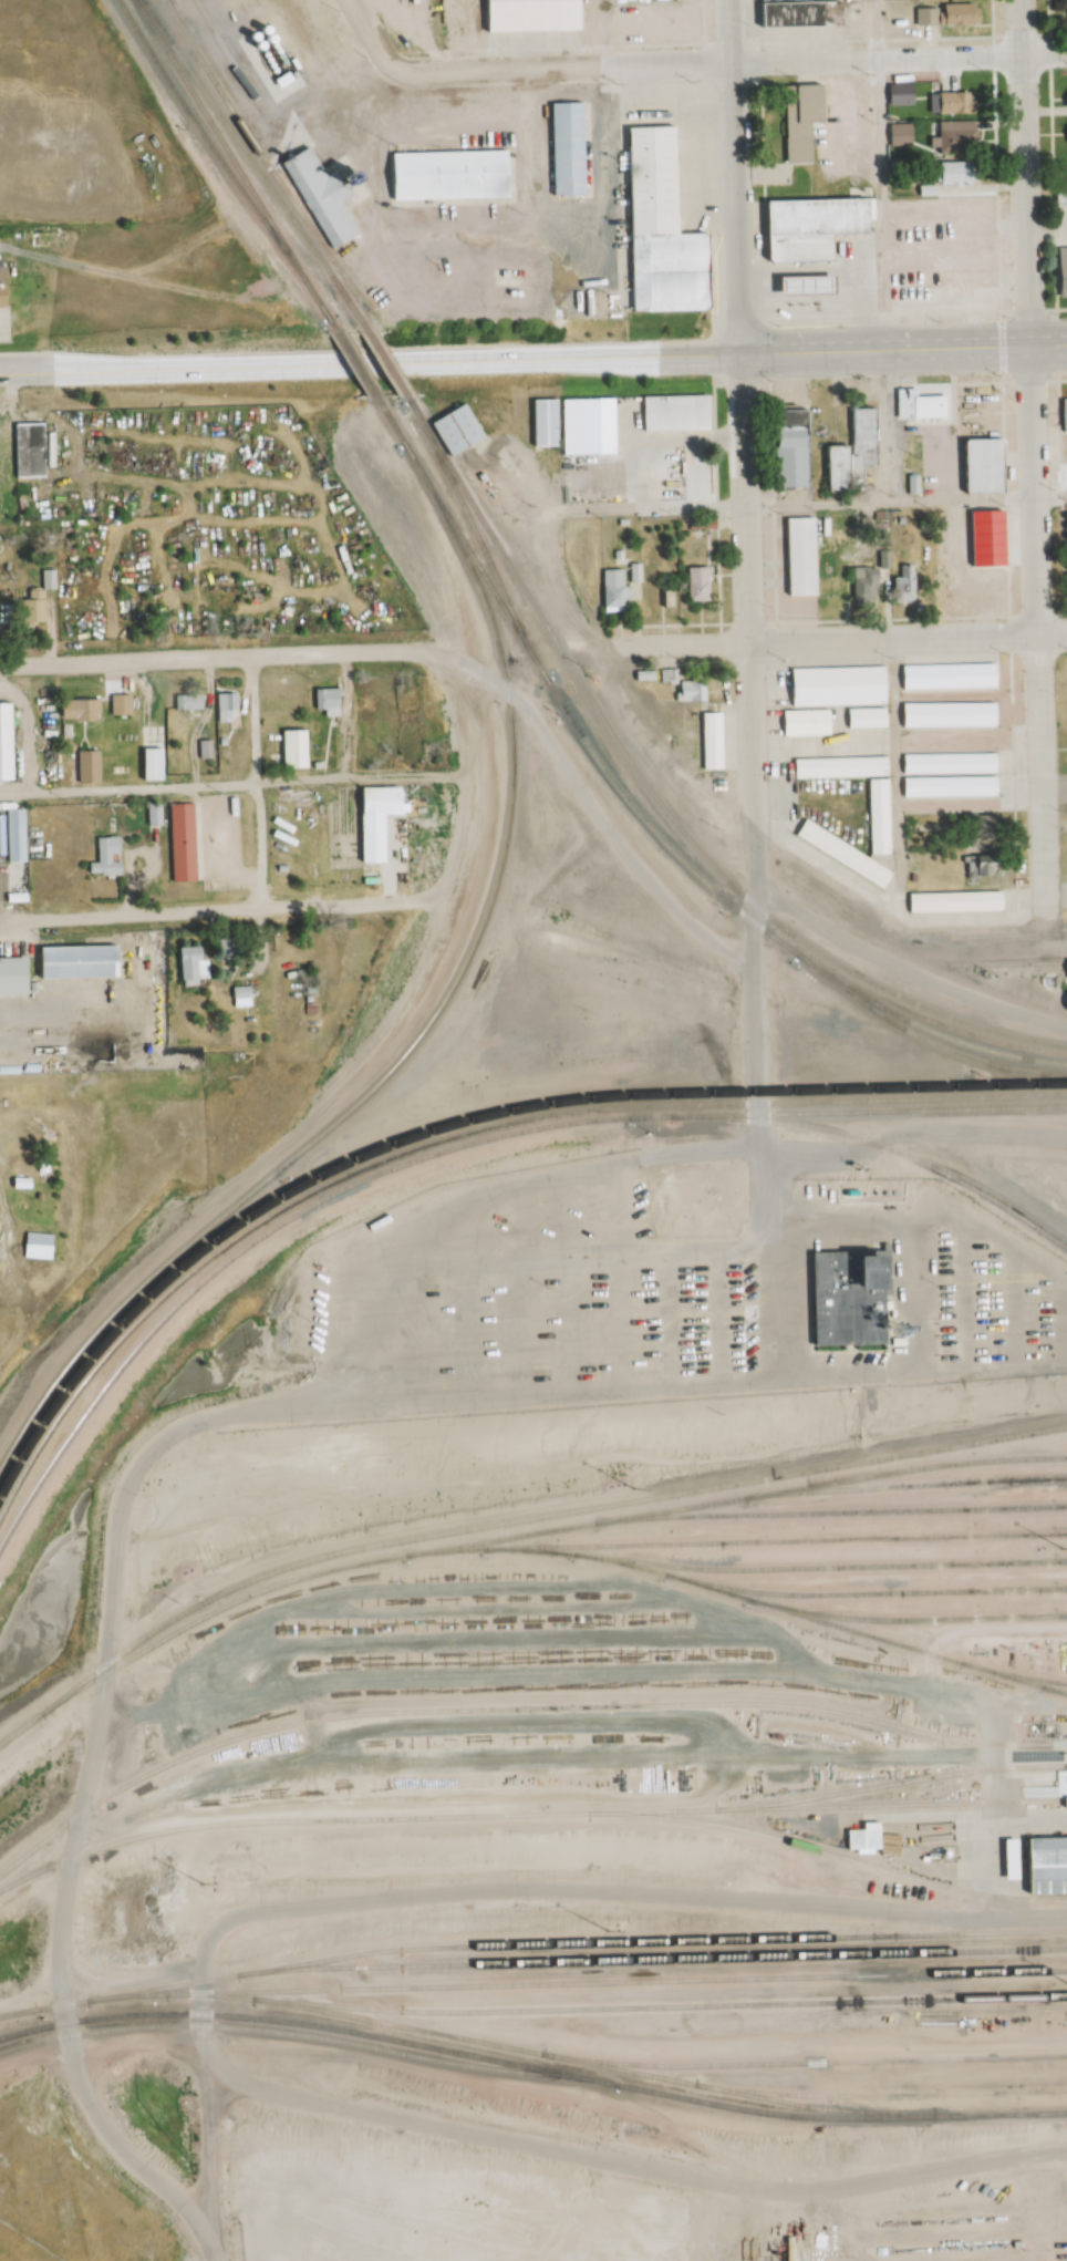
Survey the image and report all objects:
building: (795, 13)
building: (1065, 13)
building: (943, 14)
building: (522, 16)
road: (598, 34)
road: (369, 35)
building: (293, 63)
road: (731, 64)
building: (276, 81)
building: (894, 95)
building: (1064, 97)
building: (949, 104)
building: (795, 122)
building: (1064, 134)
building: (895, 135)
building: (952, 137)
building: (566, 147)
railway: (232, 159)
railway: (262, 159)
railway: (219, 163)
railway: (252, 166)
road: (880, 169)
building: (940, 171)
road: (734, 172)
building: (1064, 174)
building: (446, 175)
building: (652, 182)
building: (321, 194)
building: (802, 228)
building: (433, 256)
building: (1059, 272)
building: (667, 273)
building: (501, 275)
building: (6, 286)
building: (796, 286)
railway: (334, 324)
road: (974, 337)
road: (810, 342)
road: (672, 347)
road: (361, 354)
road: (58, 362)
railway: (356, 363)
railway: (385, 364)
building: (901, 404)
building: (568, 409)
building: (669, 413)
building: (1061, 415)
building: (541, 424)
building: (594, 426)
building: (453, 429)
road: (365, 435)
building: (781, 448)
building: (33, 450)
building: (848, 453)
road: (1032, 456)
building: (975, 467)
building: (476, 477)
road: (477, 502)
road: (746, 504)
building: (620, 523)
building: (698, 525)
railway: (479, 547)
building: (617, 556)
building: (798, 557)
building: (632, 572)
building: (694, 584)
building: (904, 584)
building: (939, 584)
building: (859, 587)
building: (609, 591)
building: (662, 598)
road: (746, 615)
road: (835, 640)
railway: (553, 646)
road: (227, 657)
railway: (532, 663)
building: (663, 675)
building: (947, 677)
building: (642, 679)
building: (837, 685)
building: (688, 692)
building: (194, 701)
building: (332, 701)
building: (124, 705)
building: (230, 708)
building: (91, 710)
building: (946, 715)
building: (864, 719)
building: (805, 723)
road: (30, 729)
building: (709, 743)
building: (208, 748)
building: (301, 750)
building: (158, 764)
building: (946, 765)
building: (93, 767)
building: (837, 768)
road: (655, 778)
road: (238, 781)
road: (473, 787)
building: (946, 788)
road: (593, 814)
building: (876, 816)
building: (384, 820)
road: (1053, 828)
building: (971, 833)
building: (20, 835)
building: (187, 842)
building: (112, 857)
building: (838, 858)
building: (976, 870)
building: (911, 879)
building: (952, 904)
road: (205, 910)
railway: (1007, 936)
building: (86, 961)
building: (197, 963)
railway: (1006, 963)
road: (902, 973)
building: (17, 974)
railway: (883, 987)
building: (245, 997)
railway: (885, 1008)
railway: (921, 1036)
railway: (403, 1050)
railway: (463, 1119)
railway: (460, 1134)
road: (912, 1135)
railway: (857, 1143)
railway: (455, 1147)
building: (44, 1239)
building: (841, 1300)
road: (268, 1406)
railway: (902, 1488)
railway: (830, 1513)
railway: (509, 1522)
railway: (533, 1534)
railway: (787, 1542)
railway: (835, 1567)
railway: (867, 1594)
railway: (746, 1600)
railway: (910, 1621)
railway: (999, 1672)
railway: (1052, 1690)
railway: (515, 1710)
railway: (888, 1785)
railway: (527, 1816)
building: (858, 1837)
railway: (825, 1852)
building: (1001, 1860)
building: (1045, 1866)
road: (566, 1889)
railway: (584, 1944)
railway: (1066, 1950)
railway: (669, 1960)
railway: (618, 1983)
railway: (137, 1995)
railway: (52, 2006)
railway: (665, 2007)
railway: (278, 2032)
railway: (799, 2063)
railway: (615, 2071)
railway: (531, 2072)
road: (210, 2158)
road: (633, 2166)

